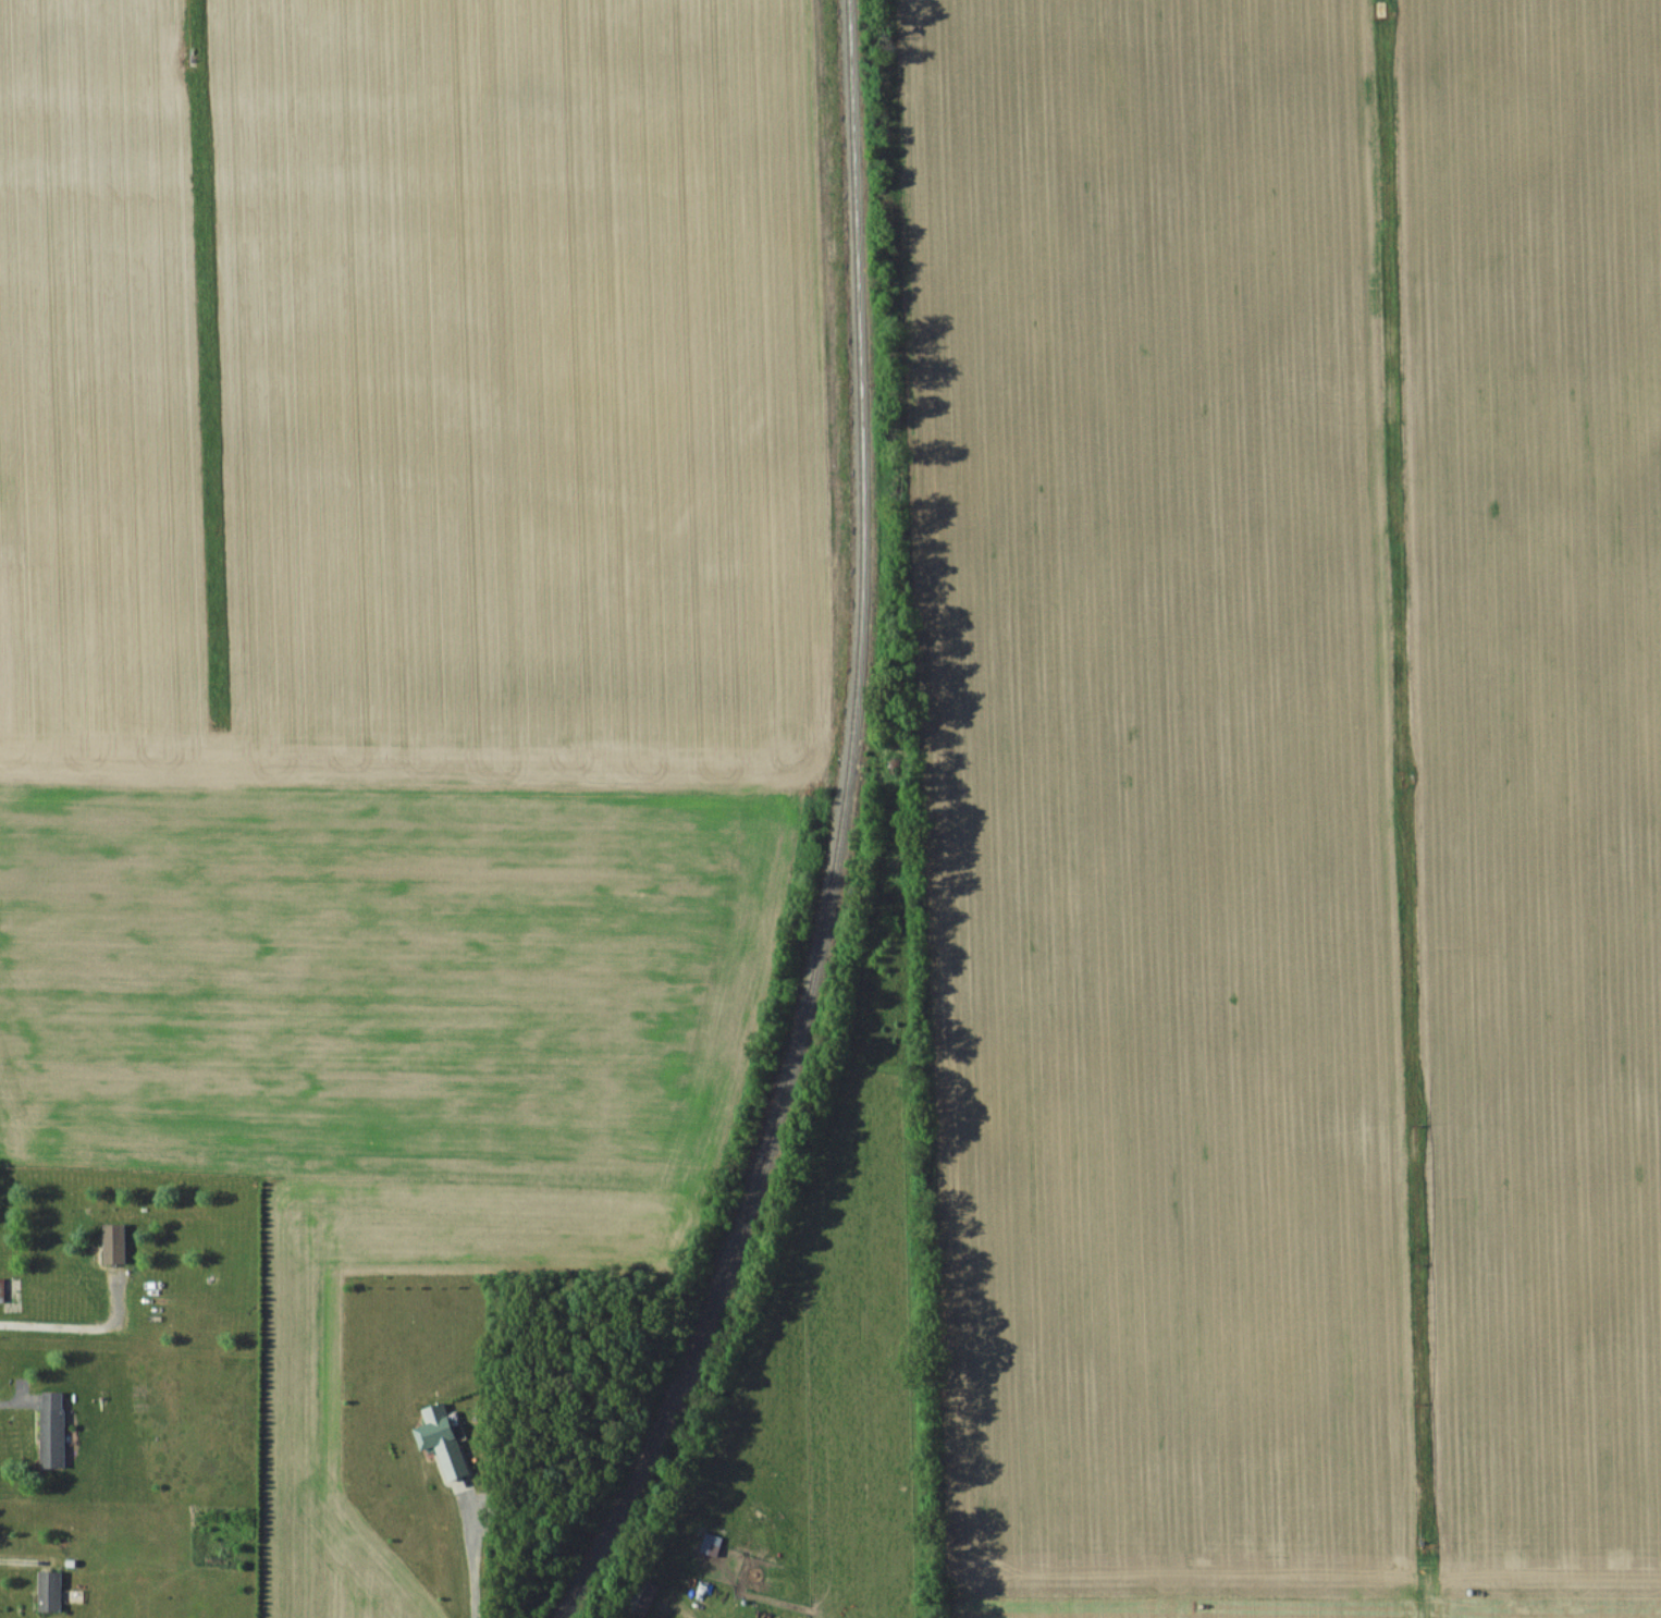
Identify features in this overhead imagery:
railway: (790, 830)
building: (113, 1242)
building: (1, 1290)
road: (71, 1326)
building: (51, 1429)
building: (440, 1430)
road: (467, 1572)
building: (50, 1591)
building: (643, 1595)

